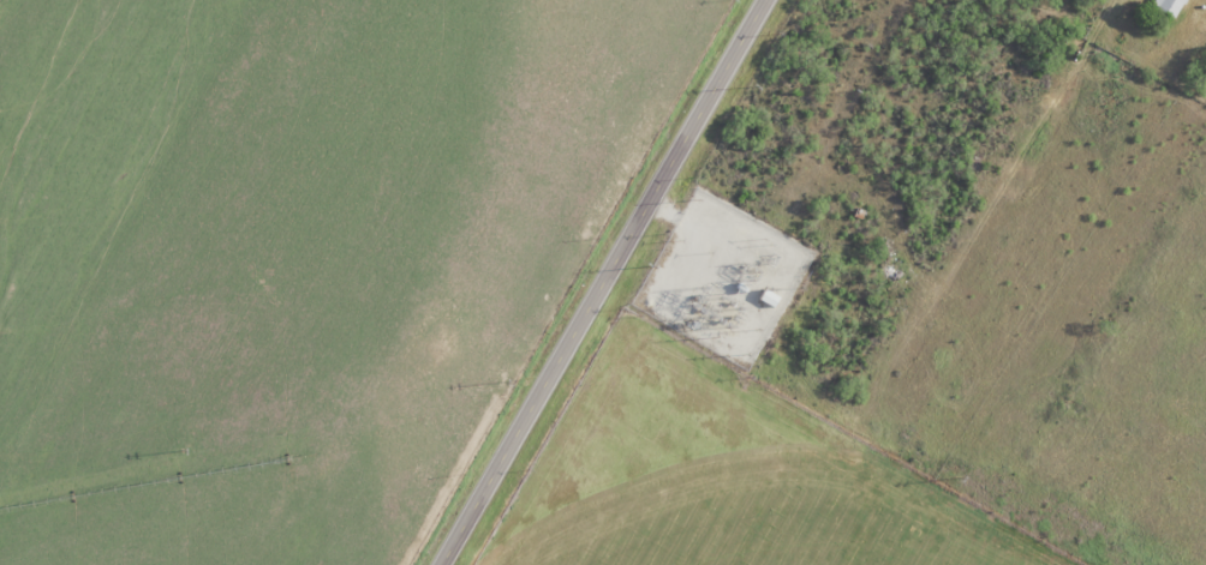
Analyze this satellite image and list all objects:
building: (1169, 6)
power tower: (751, 89)
road: (665, 211)
power tower: (650, 269)
power substation: (723, 281)
road: (602, 282)
building: (768, 299)
power tower: (701, 300)
power tower: (735, 319)
power tower: (722, 325)
power tower: (758, 331)
power tower: (712, 341)
power tower: (744, 357)
power tower: (507, 383)
power tower: (185, 451)
power tower: (957, 481)

